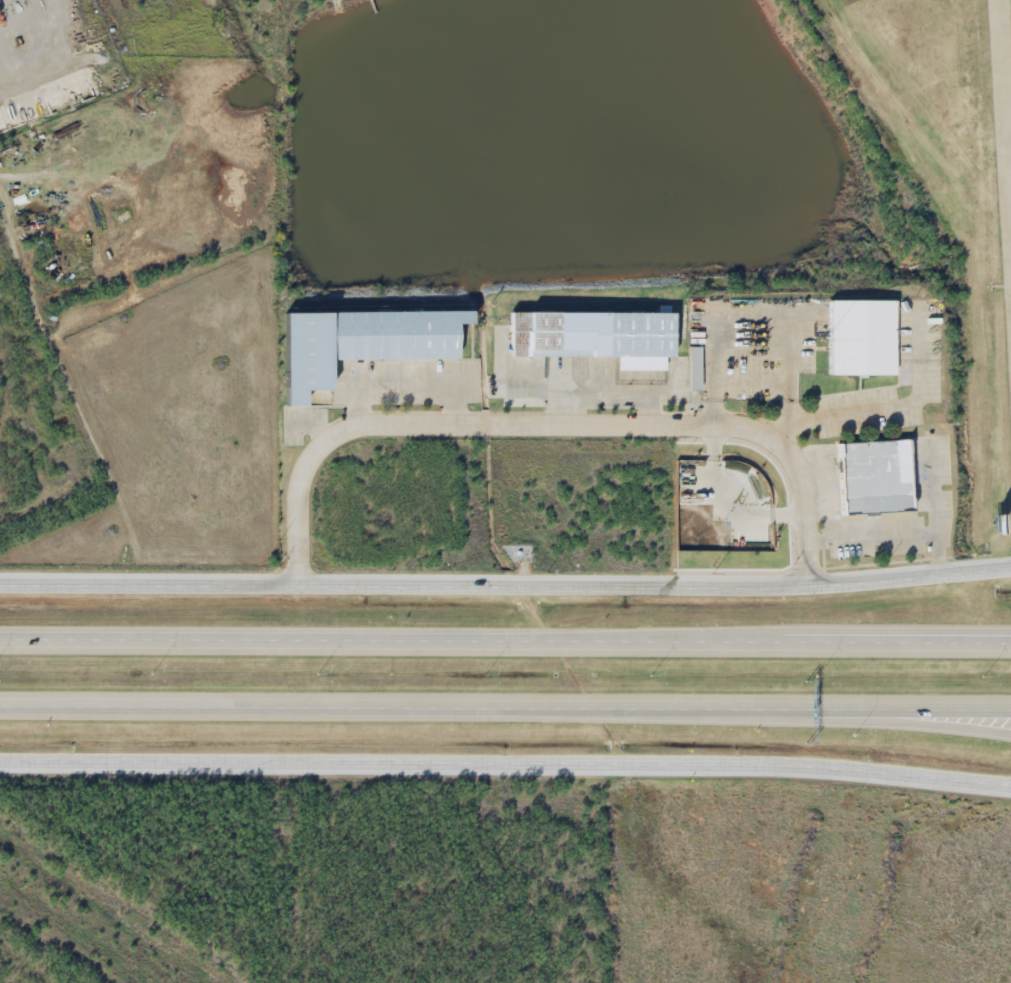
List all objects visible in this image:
road: (1003, 141)
building: (594, 337)
building: (862, 337)
building: (362, 343)
building: (696, 369)
road: (550, 429)
building: (875, 476)
road: (505, 580)
road: (769, 630)
road: (505, 641)
road: (505, 709)
road: (873, 723)
road: (505, 768)

